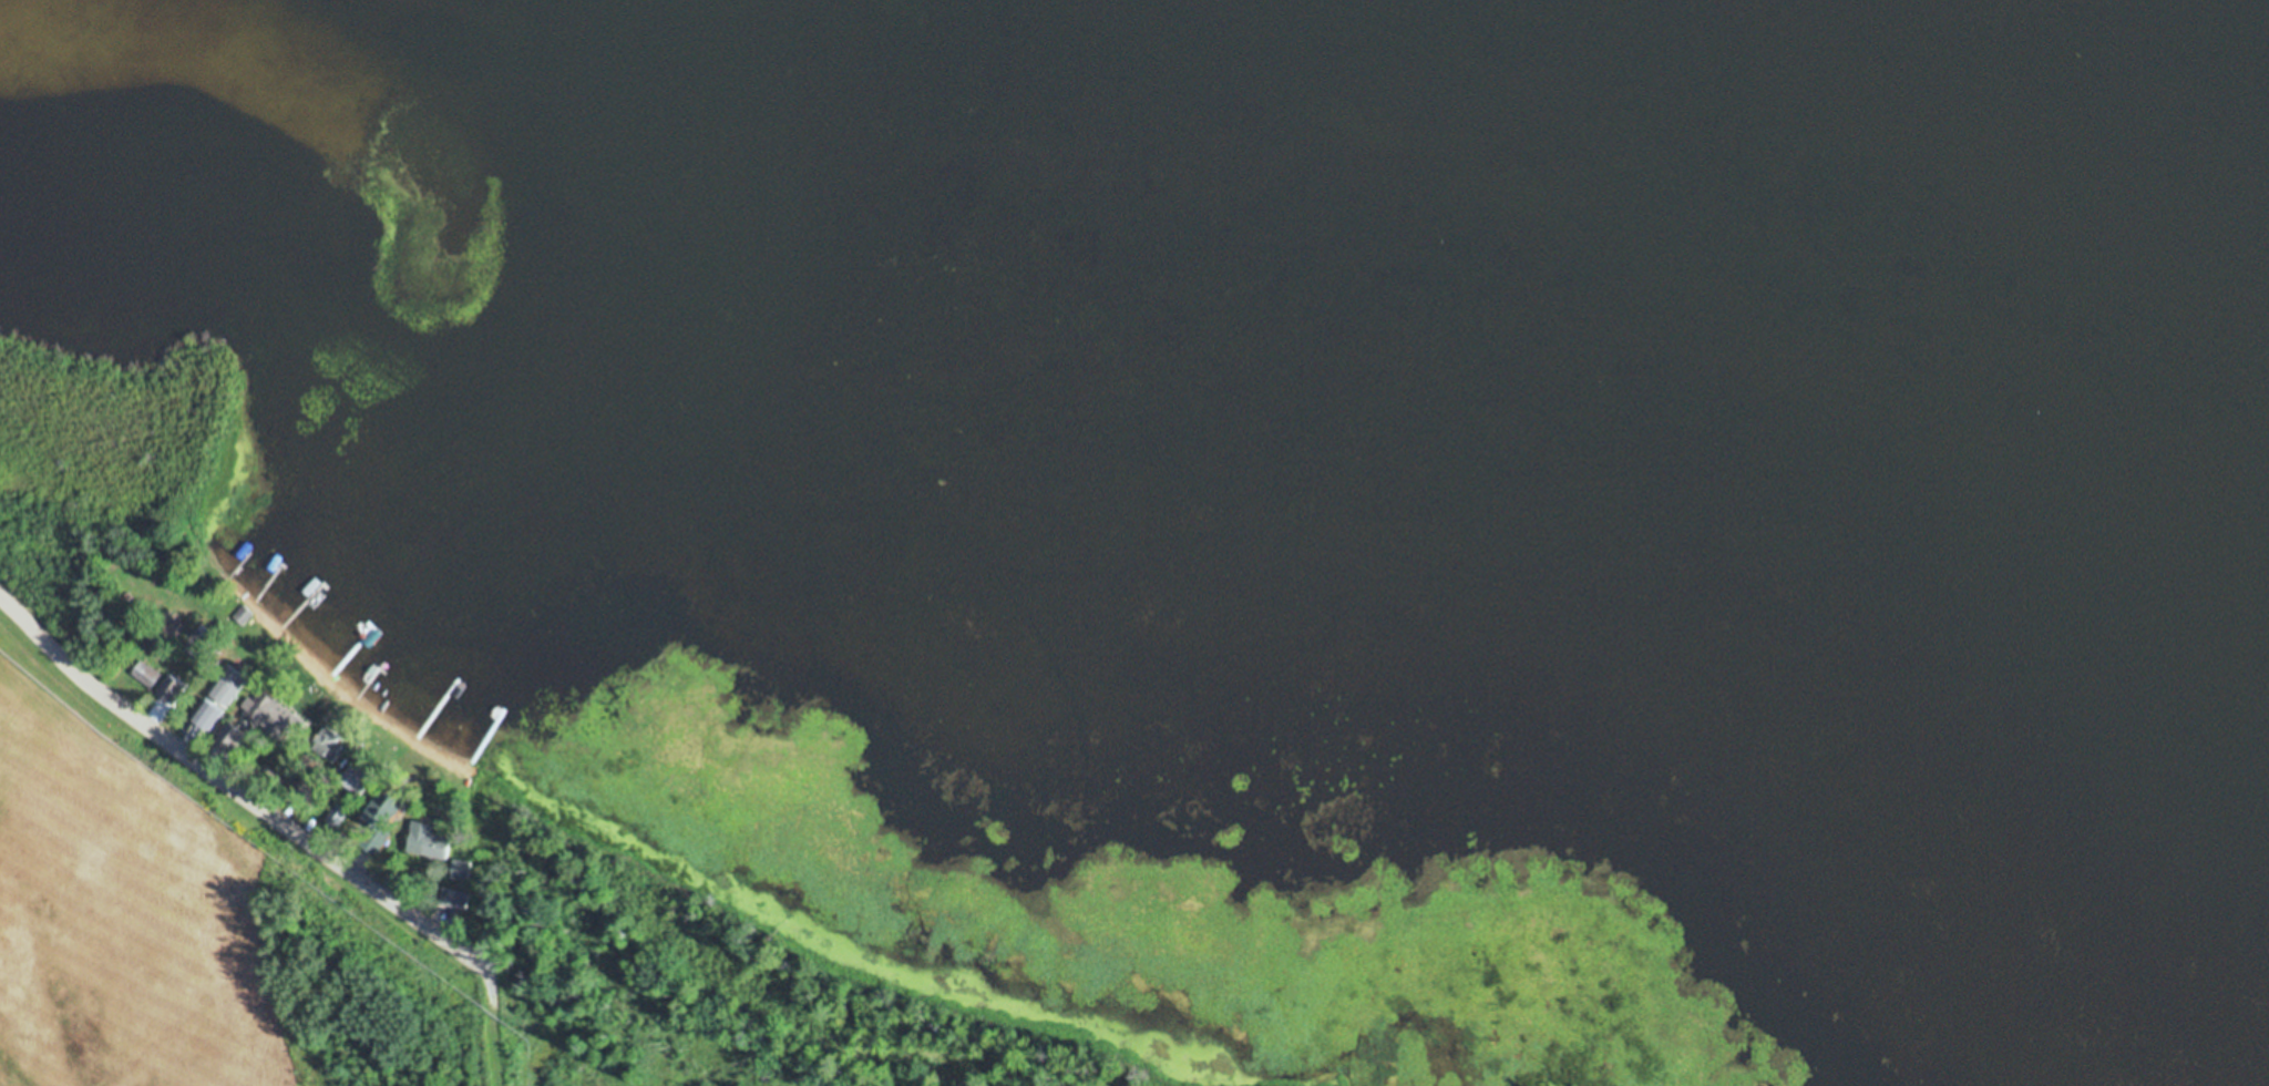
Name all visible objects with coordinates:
building: (244, 613)
building: (146, 673)
building: (233, 684)
building: (260, 701)
building: (209, 727)
airport: (69, 728)
building: (230, 737)
building: (357, 778)
road: (234, 787)
building: (390, 801)
building: (338, 814)
building: (376, 836)
building: (428, 839)
building: (461, 868)
building: (458, 898)
airport: (1526, 1083)

